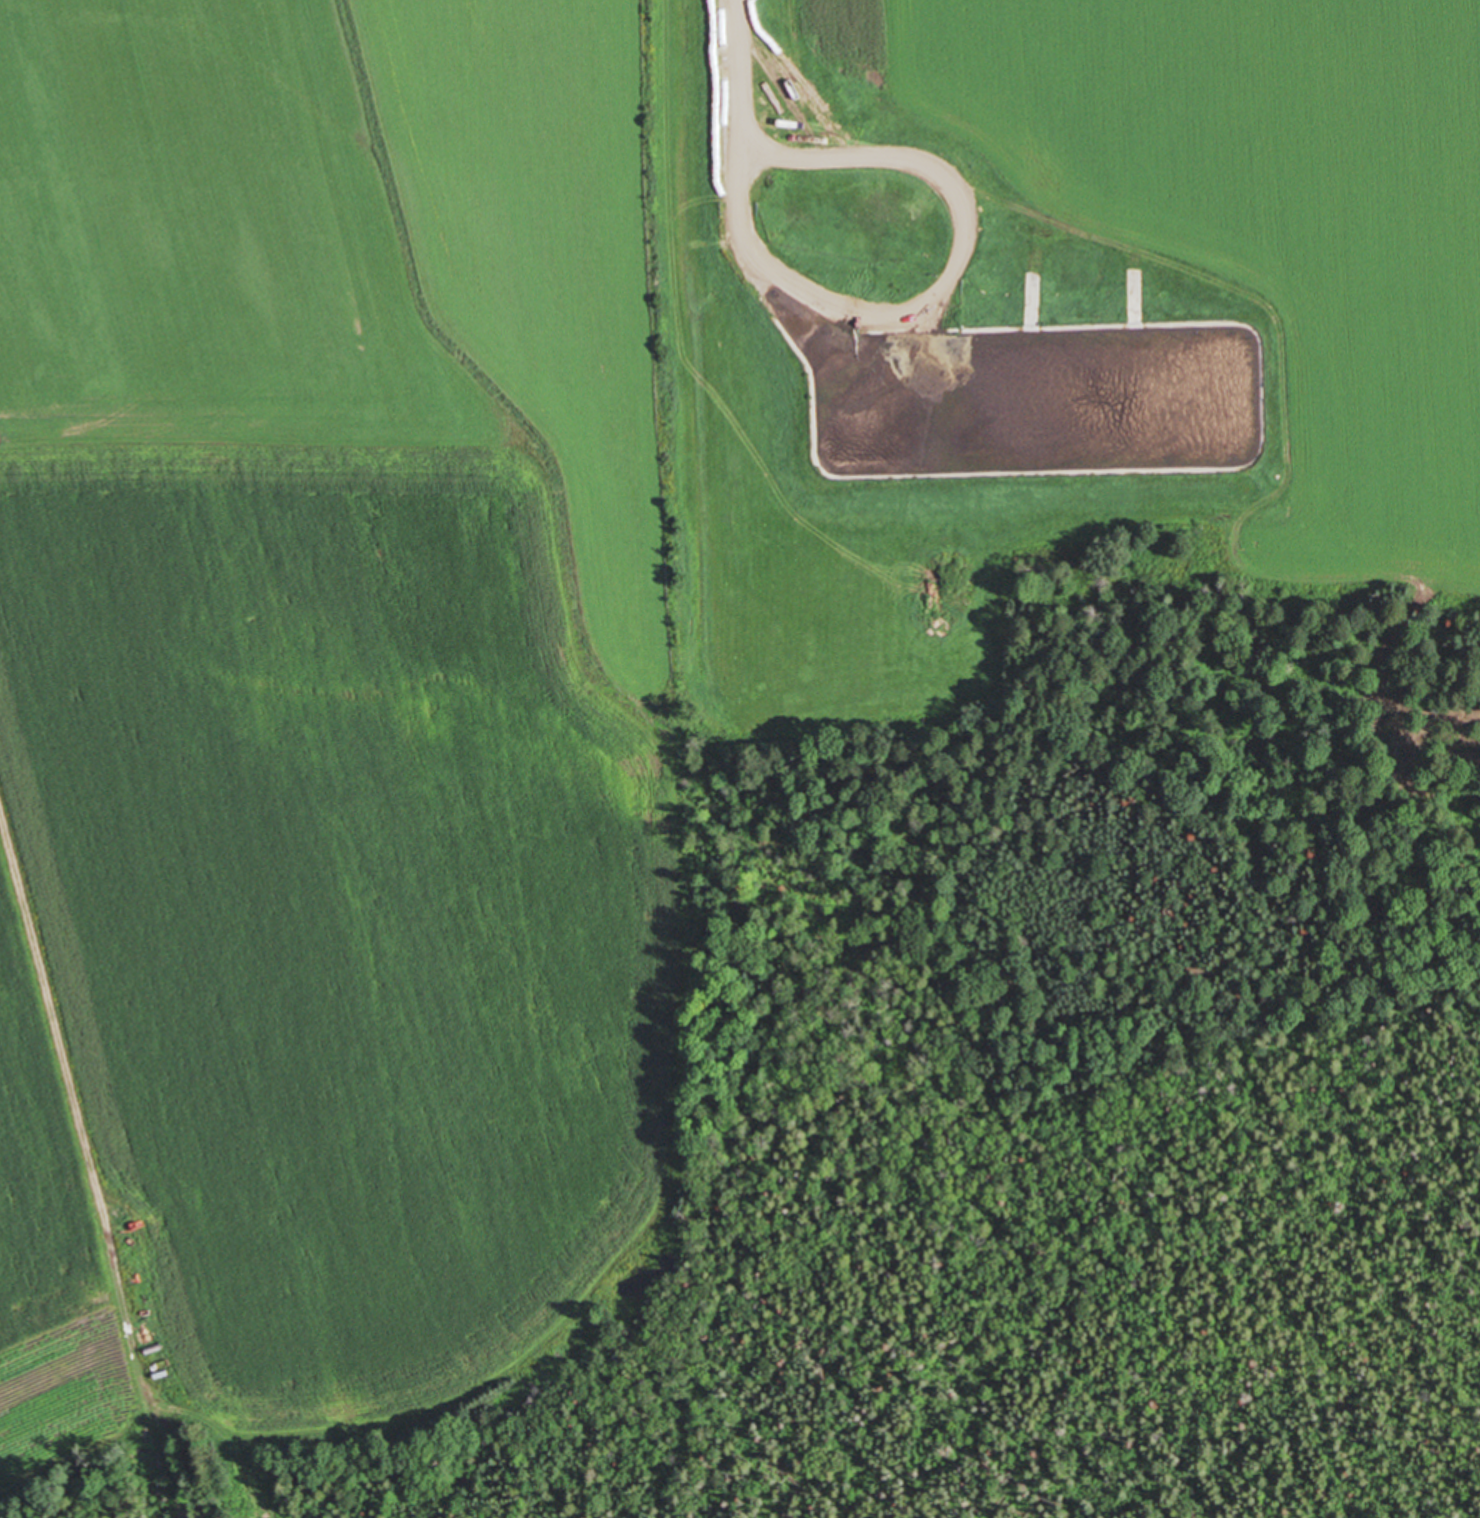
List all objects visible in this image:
road: (728, 63)
road: (945, 289)
road: (111, 1121)

